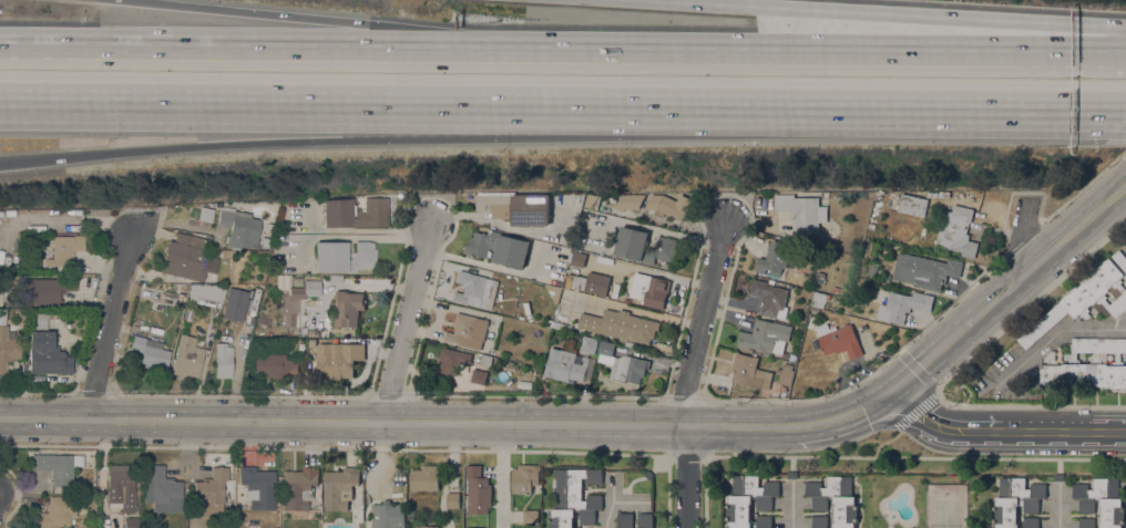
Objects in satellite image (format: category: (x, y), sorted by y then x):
road: (706, 3)
road: (946, 17)
road: (368, 23)
road: (296, 44)
road: (859, 46)
road: (350, 101)
road: (913, 110)
road: (349, 134)
building: (607, 196)
building: (591, 201)
building: (655, 204)
building: (911, 204)
building: (516, 206)
building: (801, 211)
building: (355, 213)
building: (206, 214)
road: (661, 218)
building: (239, 227)
building: (270, 227)
road: (367, 229)
building: (956, 230)
building: (266, 242)
building: (644, 246)
building: (498, 247)
building: (65, 248)
road: (1050, 255)
building: (184, 256)
building: (344, 256)
building: (577, 258)
building: (776, 258)
building: (924, 270)
building: (335, 279)
building: (284, 280)
building: (597, 282)
building: (614, 287)
building: (182, 288)
building: (311, 288)
building: (49, 289)
building: (649, 289)
building: (835, 289)
building: (475, 290)
building: (553, 291)
building: (206, 293)
building: (769, 298)
building: (818, 298)
building: (1085, 298)
building: (863, 301)
building: (903, 306)
building: (347, 308)
building: (19, 311)
building: (187, 313)
building: (52, 314)
road: (934, 318)
building: (38, 319)
road: (699, 320)
road: (406, 321)
building: (557, 324)
building: (621, 325)
road: (109, 328)
building: (304, 330)
building: (311, 331)
building: (467, 331)
building: (766, 337)
building: (838, 339)
road: (1045, 340)
building: (570, 341)
building: (311, 342)
building: (588, 344)
building: (8, 346)
building: (300, 346)
road: (899, 351)
building: (150, 353)
building: (47, 354)
road: (934, 354)
building: (595, 355)
building: (187, 356)
building: (792, 356)
building: (223, 360)
building: (337, 360)
building: (451, 360)
building: (485, 360)
building: (622, 363)
building: (274, 365)
building: (564, 365)
building: (1086, 365)
road: (955, 367)
road: (917, 370)
building: (749, 371)
building: (786, 374)
building: (479, 375)
road: (935, 386)
traffic signals: (895, 389)
road: (51, 391)
road: (935, 395)
road: (917, 413)
road: (452, 422)
road: (953, 431)
road: (1076, 432)
road: (884, 443)
road: (367, 448)
road: (914, 457)
building: (57, 467)
building: (648, 474)
building: (792, 474)
road: (500, 475)
road: (686, 476)
building: (1058, 476)
building: (524, 477)
building: (424, 478)
building: (119, 479)
building: (258, 486)
building: (298, 487)
building: (339, 487)
building: (162, 489)
building: (212, 490)
building: (477, 490)
road: (19, 494)
building: (574, 498)
road: (612, 498)
building: (452, 500)
building: (1015, 500)
building: (1102, 500)
building: (750, 501)
building: (833, 501)
road: (790, 505)
road: (1056, 507)
building: (55, 513)
building: (388, 516)
building: (530, 516)
building: (625, 518)
building: (1086, 521)
building: (130, 522)
building: (1031, 522)
building: (424, 526)
building: (471, 527)

